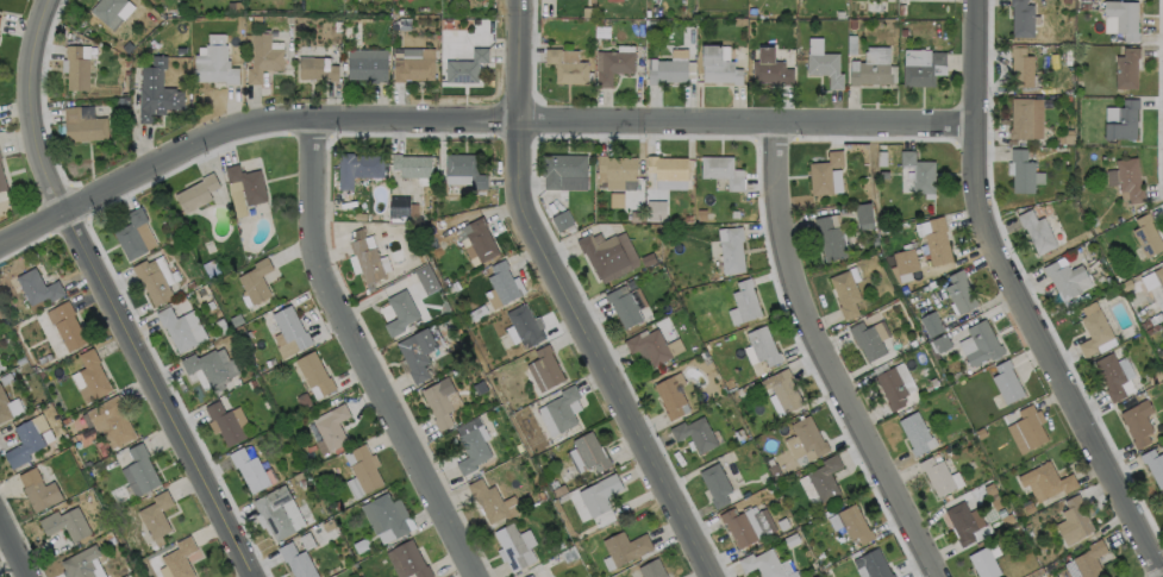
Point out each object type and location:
building: (613, 0)
building: (107, 11)
building: (1123, 17)
building: (1020, 18)
building: (263, 57)
building: (365, 63)
building: (612, 63)
building: (214, 64)
building: (413, 65)
building: (465, 65)
building: (717, 65)
building: (921, 65)
building: (315, 67)
building: (565, 67)
building: (769, 67)
building: (824, 67)
building: (1020, 67)
building: (1125, 67)
building: (76, 68)
building: (665, 70)
building: (870, 73)
building: (155, 90)
road: (39, 106)
building: (1020, 118)
road: (511, 120)
building: (1123, 120)
building: (82, 125)
building: (411, 164)
building: (357, 167)
building: (464, 168)
building: (615, 170)
building: (721, 170)
building: (563, 171)
building: (668, 171)
building: (824, 171)
building: (918, 171)
building: (1023, 171)
building: (1125, 178)
building: (1, 181)
building: (246, 183)
building: (195, 193)
building: (399, 206)
building: (863, 215)
building: (561, 220)
road: (33, 227)
building: (1036, 230)
building: (1055, 231)
building: (133, 233)
building: (1145, 234)
building: (830, 238)
building: (480, 239)
building: (937, 240)
building: (731, 250)
building: (608, 253)
building: (367, 259)
building: (905, 261)
building: (1158, 275)
building: (1063, 277)
building: (426, 278)
building: (255, 280)
building: (151, 281)
building: (502, 282)
building: (37, 286)
building: (958, 291)
building: (844, 293)
road: (570, 299)
building: (745, 299)
road: (1020, 300)
building: (625, 303)
building: (399, 312)
building: (525, 324)
building: (930, 324)
building: (64, 325)
building: (179, 326)
building: (289, 326)
building: (1093, 332)
building: (867, 339)
building: (981, 343)
building: (762, 344)
building: (648, 345)
building: (674, 346)
building: (415, 352)
road: (362, 355)
road: (832, 357)
building: (210, 365)
building: (543, 368)
building: (313, 372)
building: (92, 374)
building: (1109, 375)
building: (1006, 381)
building: (890, 387)
building: (782, 388)
road: (161, 395)
building: (669, 395)
building: (440, 401)
building: (2, 407)
building: (562, 407)
building: (110, 421)
building: (1137, 421)
building: (224, 422)
building: (331, 426)
building: (1028, 426)
building: (913, 432)
building: (694, 433)
building: (807, 435)
building: (25, 439)
building: (471, 444)
building: (1162, 447)
building: (589, 450)
building: (1153, 465)
building: (363, 466)
building: (138, 470)
building: (248, 470)
building: (936, 475)
building: (824, 476)
building: (1044, 481)
building: (714, 483)
building: (354, 488)
building: (37, 489)
building: (599, 494)
building: (492, 501)
building: (577, 506)
building: (274, 510)
building: (155, 514)
building: (384, 514)
building: (1073, 520)
building: (961, 522)
building: (65, 523)
building: (746, 523)
building: (854, 523)
building: (515, 545)
building: (625, 547)
road: (14, 548)
building: (179, 558)
building: (1088, 559)
building: (298, 560)
building: (406, 560)
building: (79, 562)
building: (983, 563)
building: (765, 564)
building: (873, 564)
building: (651, 569)
building: (529, 576)

